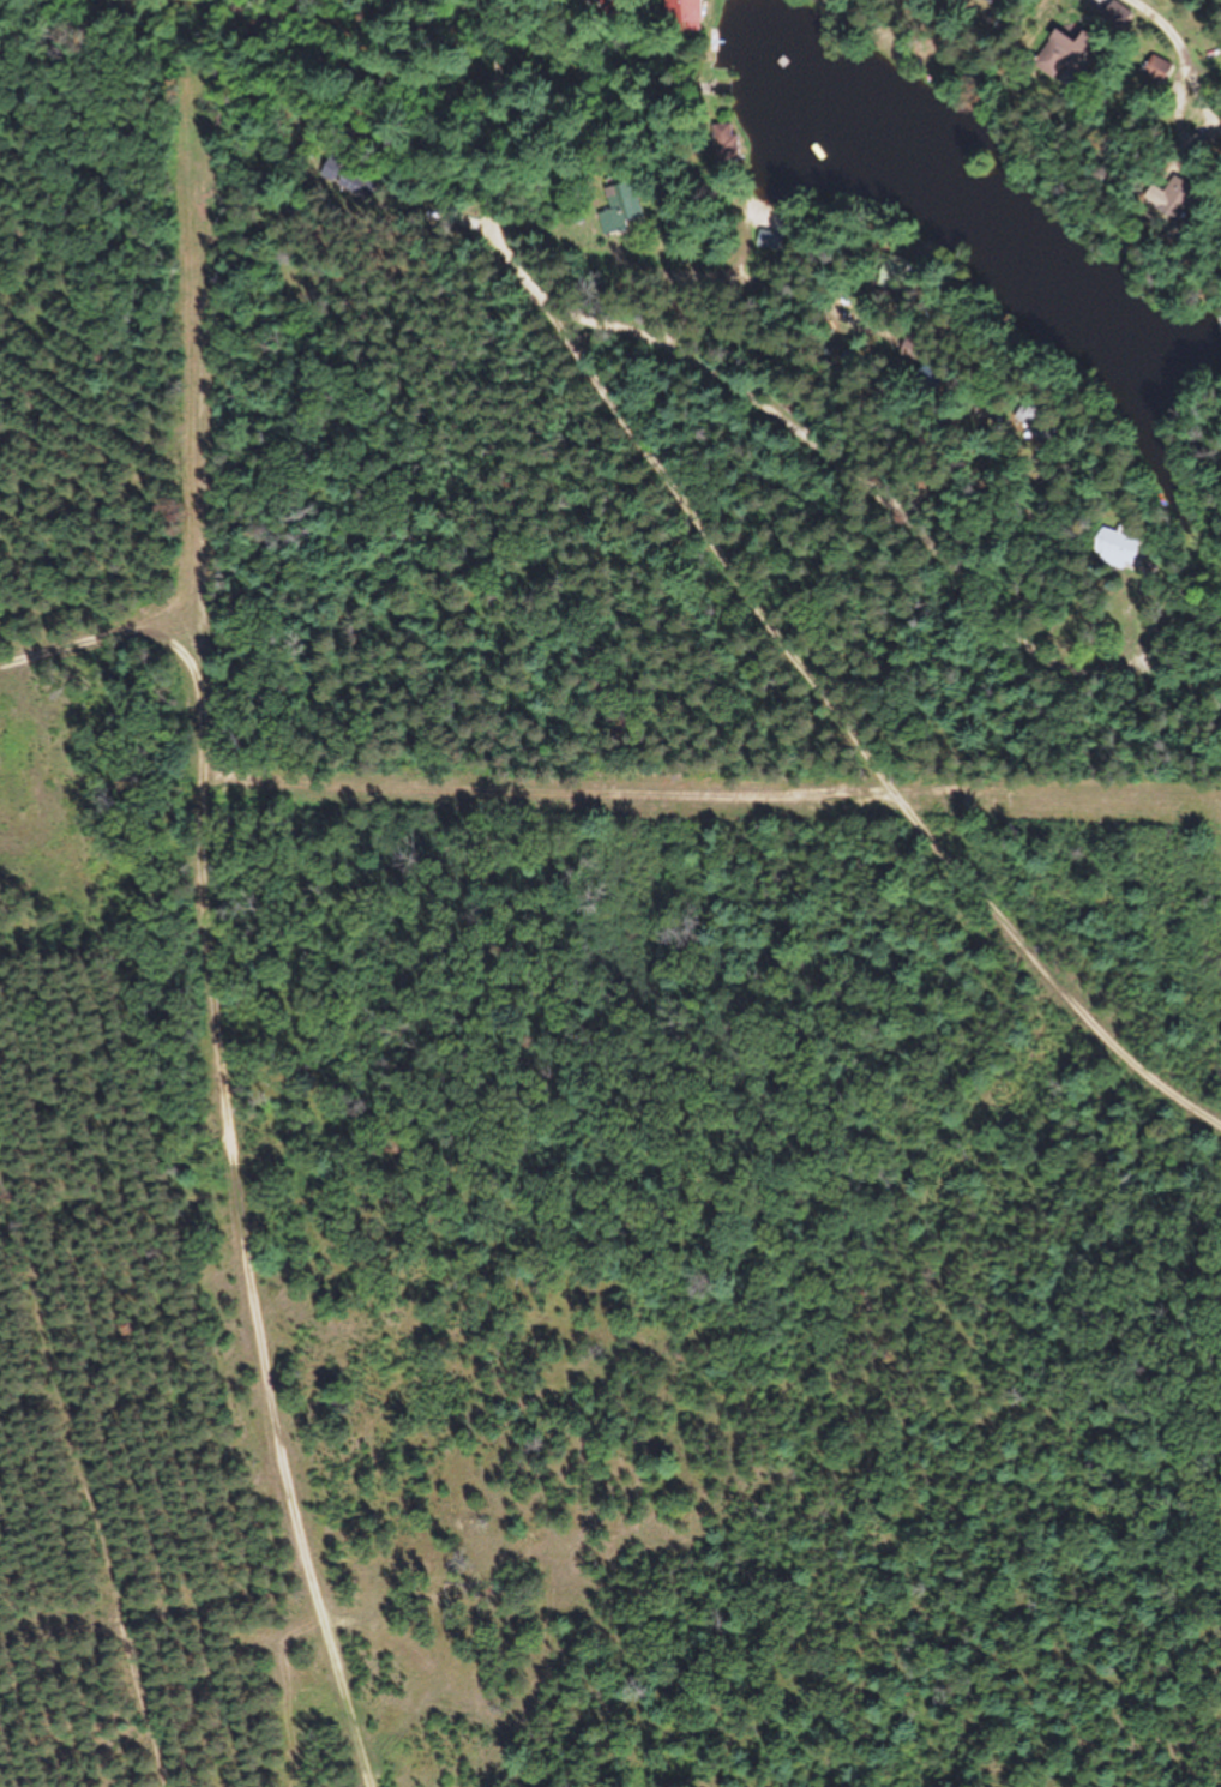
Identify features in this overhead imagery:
building: (982, 1)
building: (678, 17)
building: (1114, 18)
building: (1064, 59)
building: (1154, 73)
road: (1105, 94)
building: (718, 145)
road: (462, 175)
building: (341, 179)
building: (1175, 207)
building: (618, 212)
road: (826, 432)
building: (1113, 553)
road: (227, 1131)

